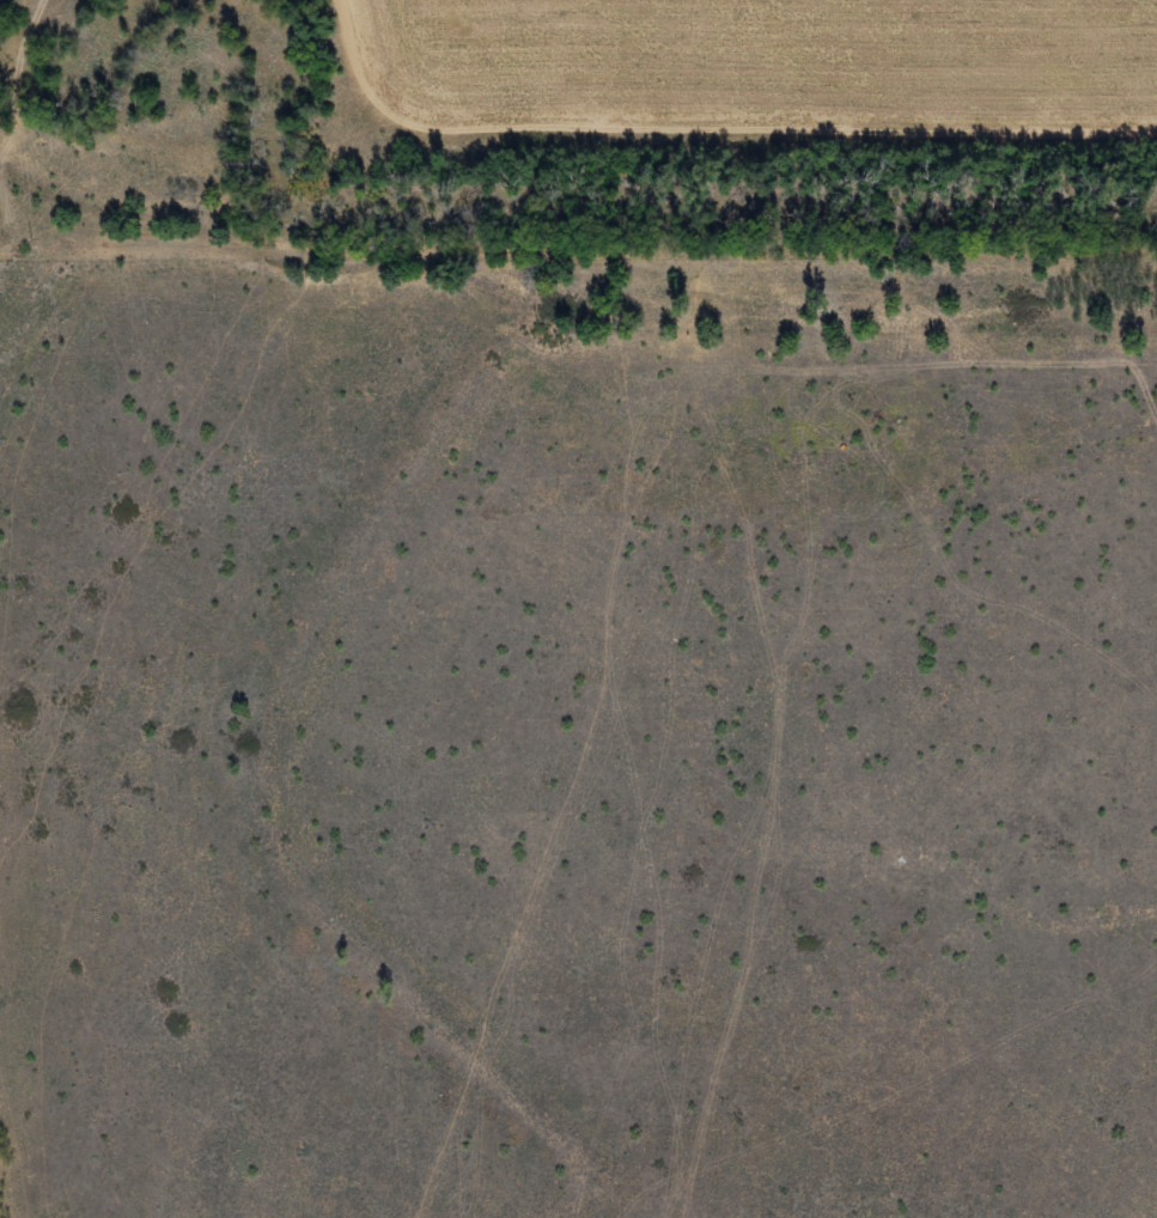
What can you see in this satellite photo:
road: (43, 51)
road: (706, 135)

